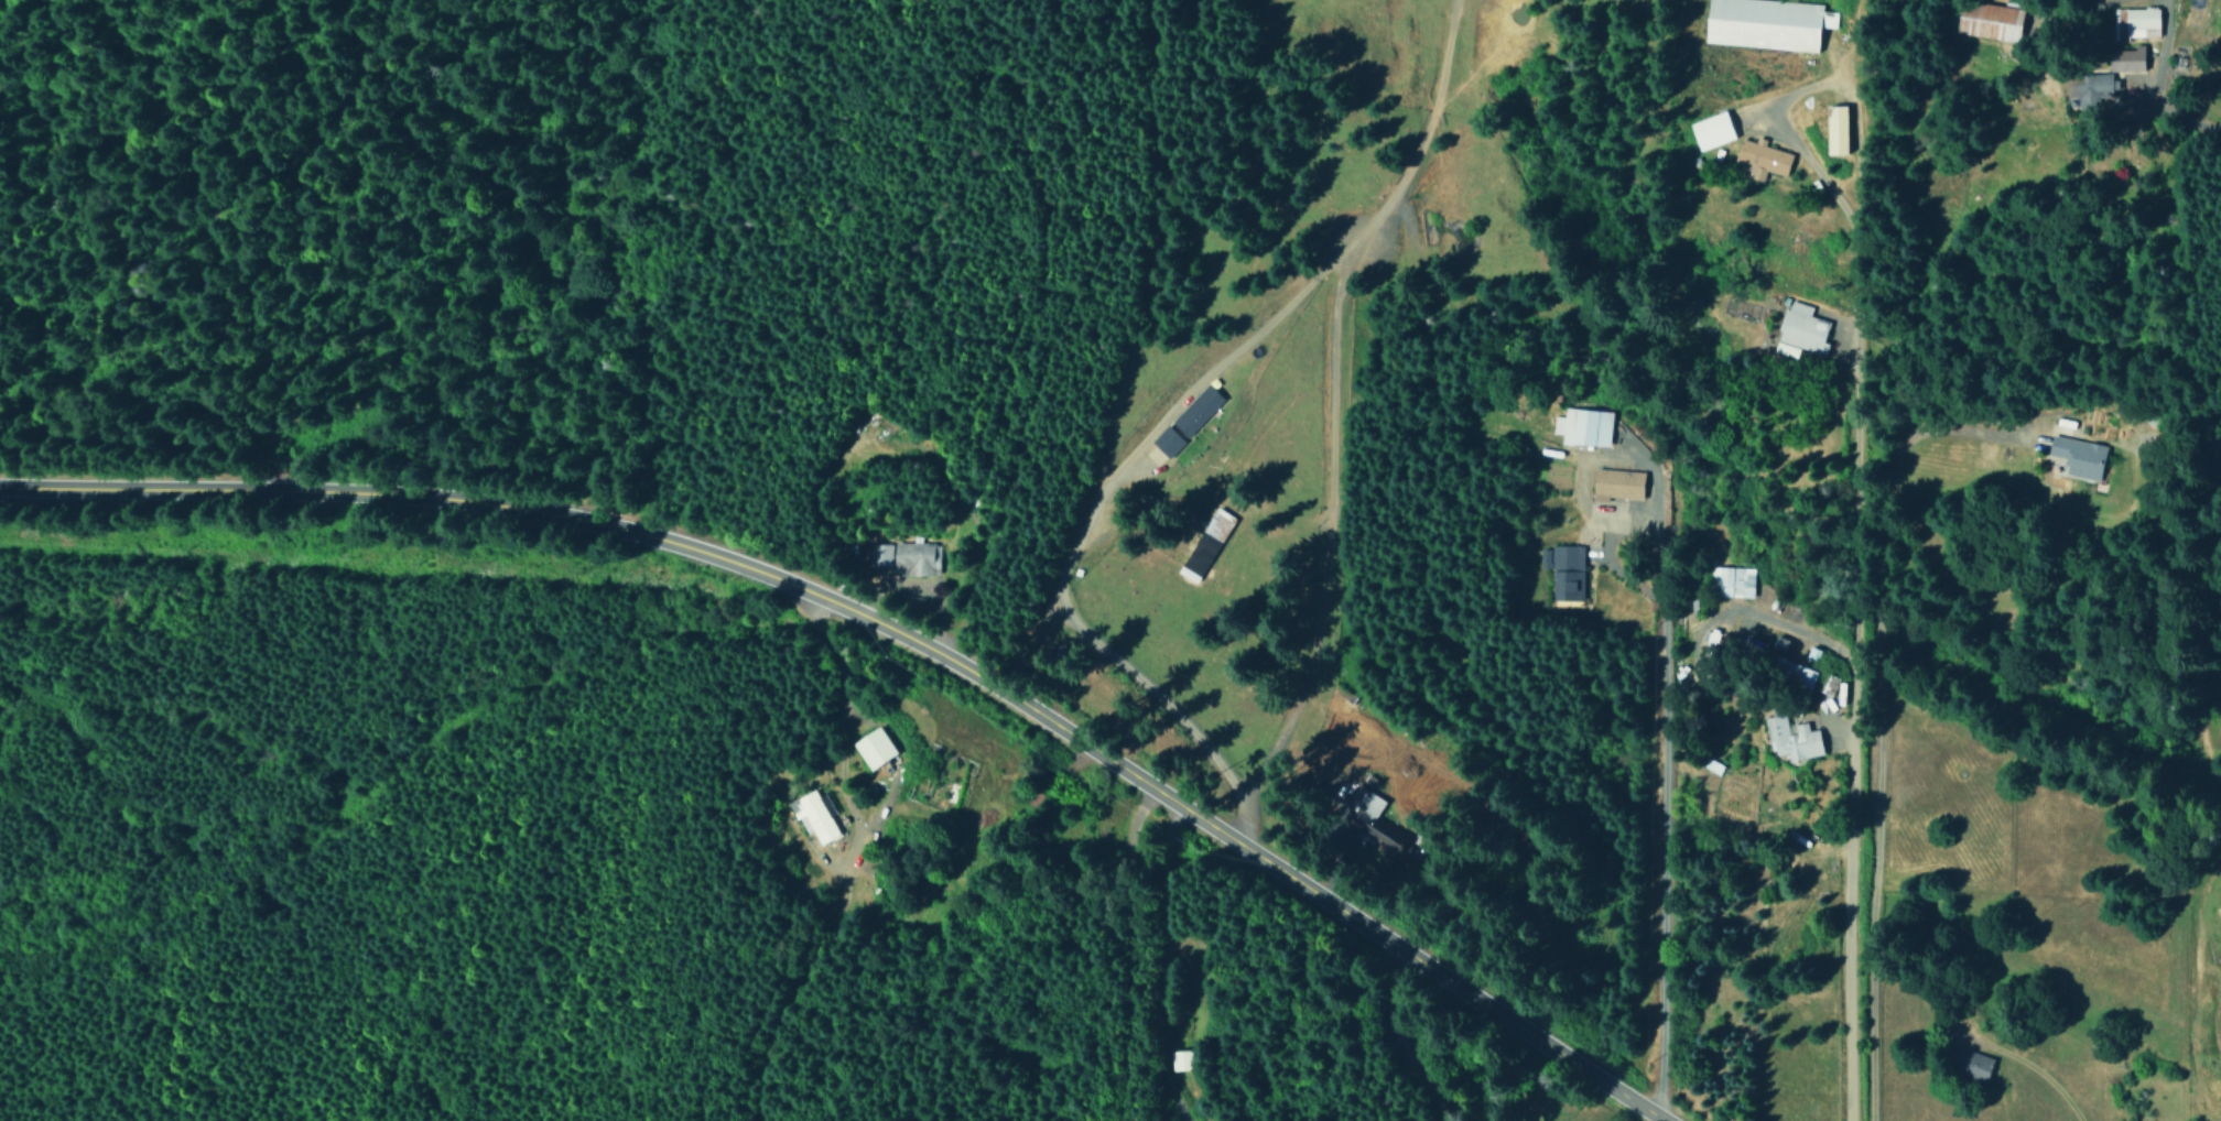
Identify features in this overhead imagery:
building: (1989, 20)
building: (2135, 22)
building: (1763, 23)
building: (2126, 58)
building: (2089, 88)
building: (1837, 129)
building: (1710, 130)
building: (1762, 159)
building: (1800, 330)
building: (1196, 410)
road: (1326, 415)
building: (1582, 426)
building: (1167, 440)
building: (2220, 451)
building: (2078, 456)
building: (1616, 483)
building: (1205, 544)
building: (1563, 570)
building: (1732, 581)
road: (1849, 601)
road: (886, 634)
building: (1794, 672)
building: (1791, 739)
building: (874, 748)
road: (397, 791)
road: (1650, 801)
building: (813, 816)
road: (813, 868)
road: (462, 924)
road: (1158, 966)
road: (1406, 1037)
building: (1182, 1059)
building: (1971, 1062)
road: (2035, 1074)

